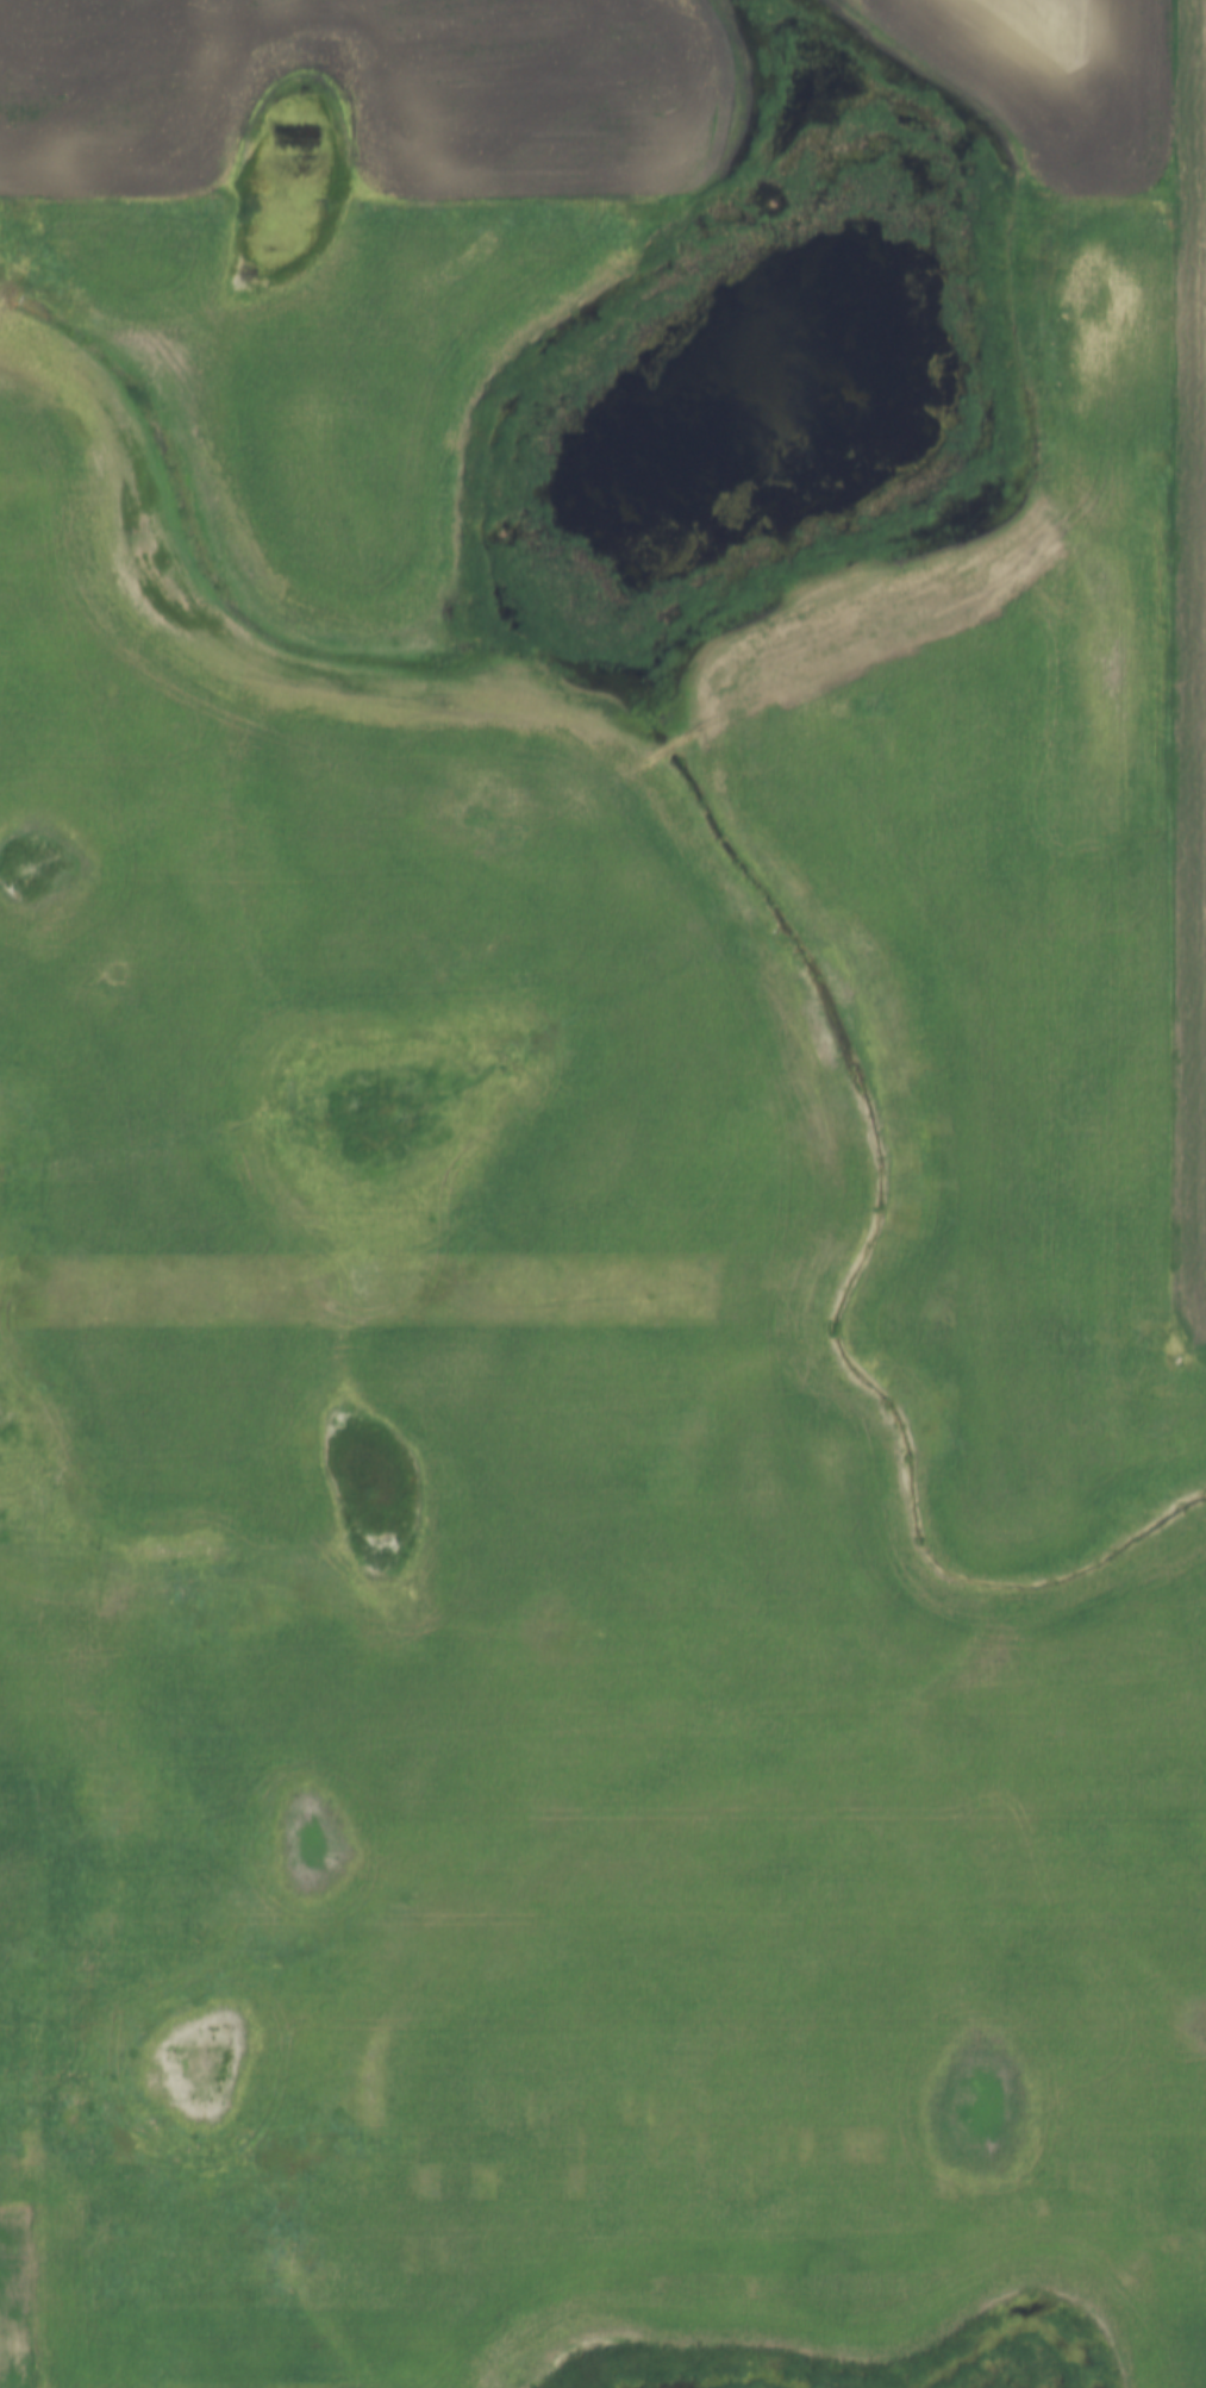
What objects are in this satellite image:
building: (8, 2355)

